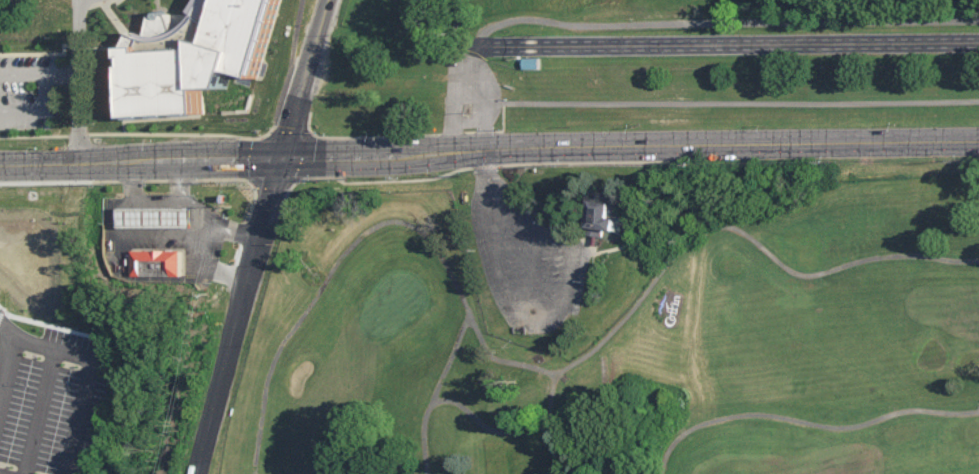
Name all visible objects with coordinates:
road: (120, 16)
park: (643, 21)
road: (681, 23)
building: (197, 53)
road: (286, 64)
road: (62, 75)
road: (307, 80)
road: (79, 81)
parking lot: (34, 92)
road: (46, 93)
road: (740, 104)
road: (266, 132)
road: (686, 154)
road: (340, 160)
road: (221, 162)
road: (78, 164)
road: (44, 181)
road: (364, 183)
road: (157, 200)
road: (201, 206)
building: (622, 212)
building: (161, 215)
building: (599, 220)
road: (393, 223)
road: (745, 234)
parking lot: (163, 235)
road: (138, 242)
road: (210, 242)
road: (198, 255)
parking lot: (530, 259)
building: (159, 262)
road: (532, 269)
park: (389, 308)
road: (551, 314)
road: (238, 316)
park: (618, 327)
road: (6, 348)
road: (89, 370)
road: (438, 398)
road: (552, 415)
road: (805, 422)
road: (554, 434)
road: (559, 452)
park: (730, 473)

